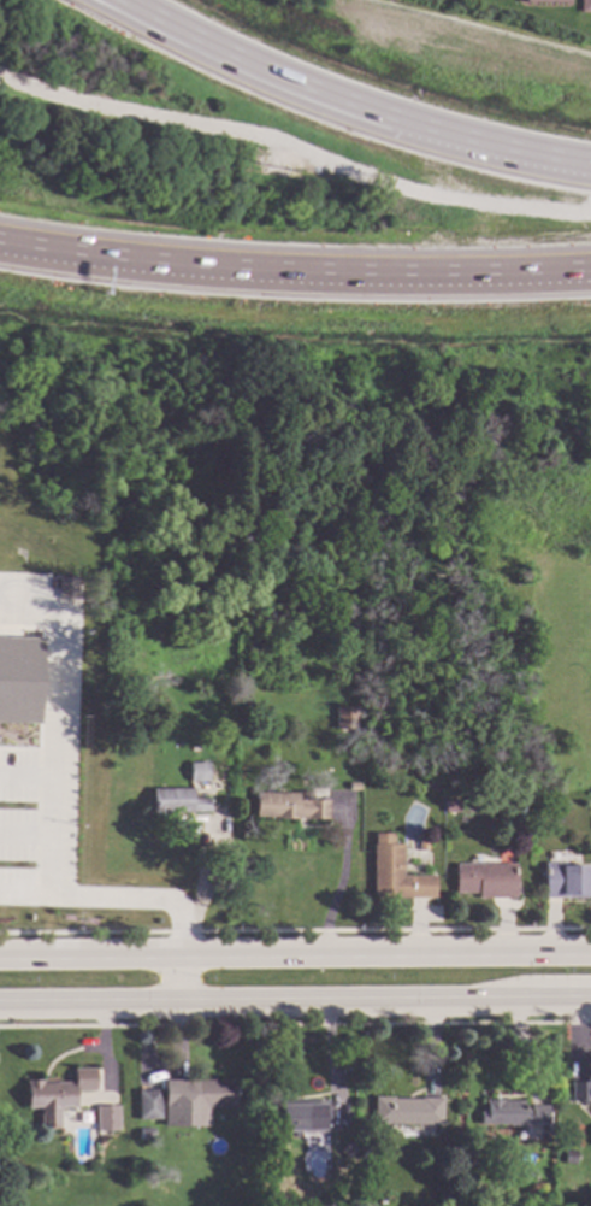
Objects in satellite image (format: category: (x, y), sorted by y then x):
building: (543, 1)
building: (585, 7)
road: (336, 101)
road: (4, 248)
road: (4, 248)
road: (299, 277)
building: (354, 449)
building: (65, 588)
building: (177, 628)
building: (354, 629)
building: (19, 681)
building: (347, 717)
road: (49, 725)
building: (197, 772)
building: (427, 786)
building: (353, 788)
building: (175, 804)
building: (289, 806)
building: (450, 807)
building: (392, 872)
building: (485, 881)
building: (565, 882)
road: (113, 896)
road: (295, 953)
road: (183, 979)
road: (295, 1002)
building: (580, 1090)
building: (57, 1094)
building: (203, 1094)
building: (148, 1102)
building: (407, 1110)
building: (512, 1112)
building: (303, 1113)
building: (106, 1117)
building: (144, 1133)
building: (345, 1148)
building: (365, 1153)
building: (569, 1157)
building: (514, 1201)

